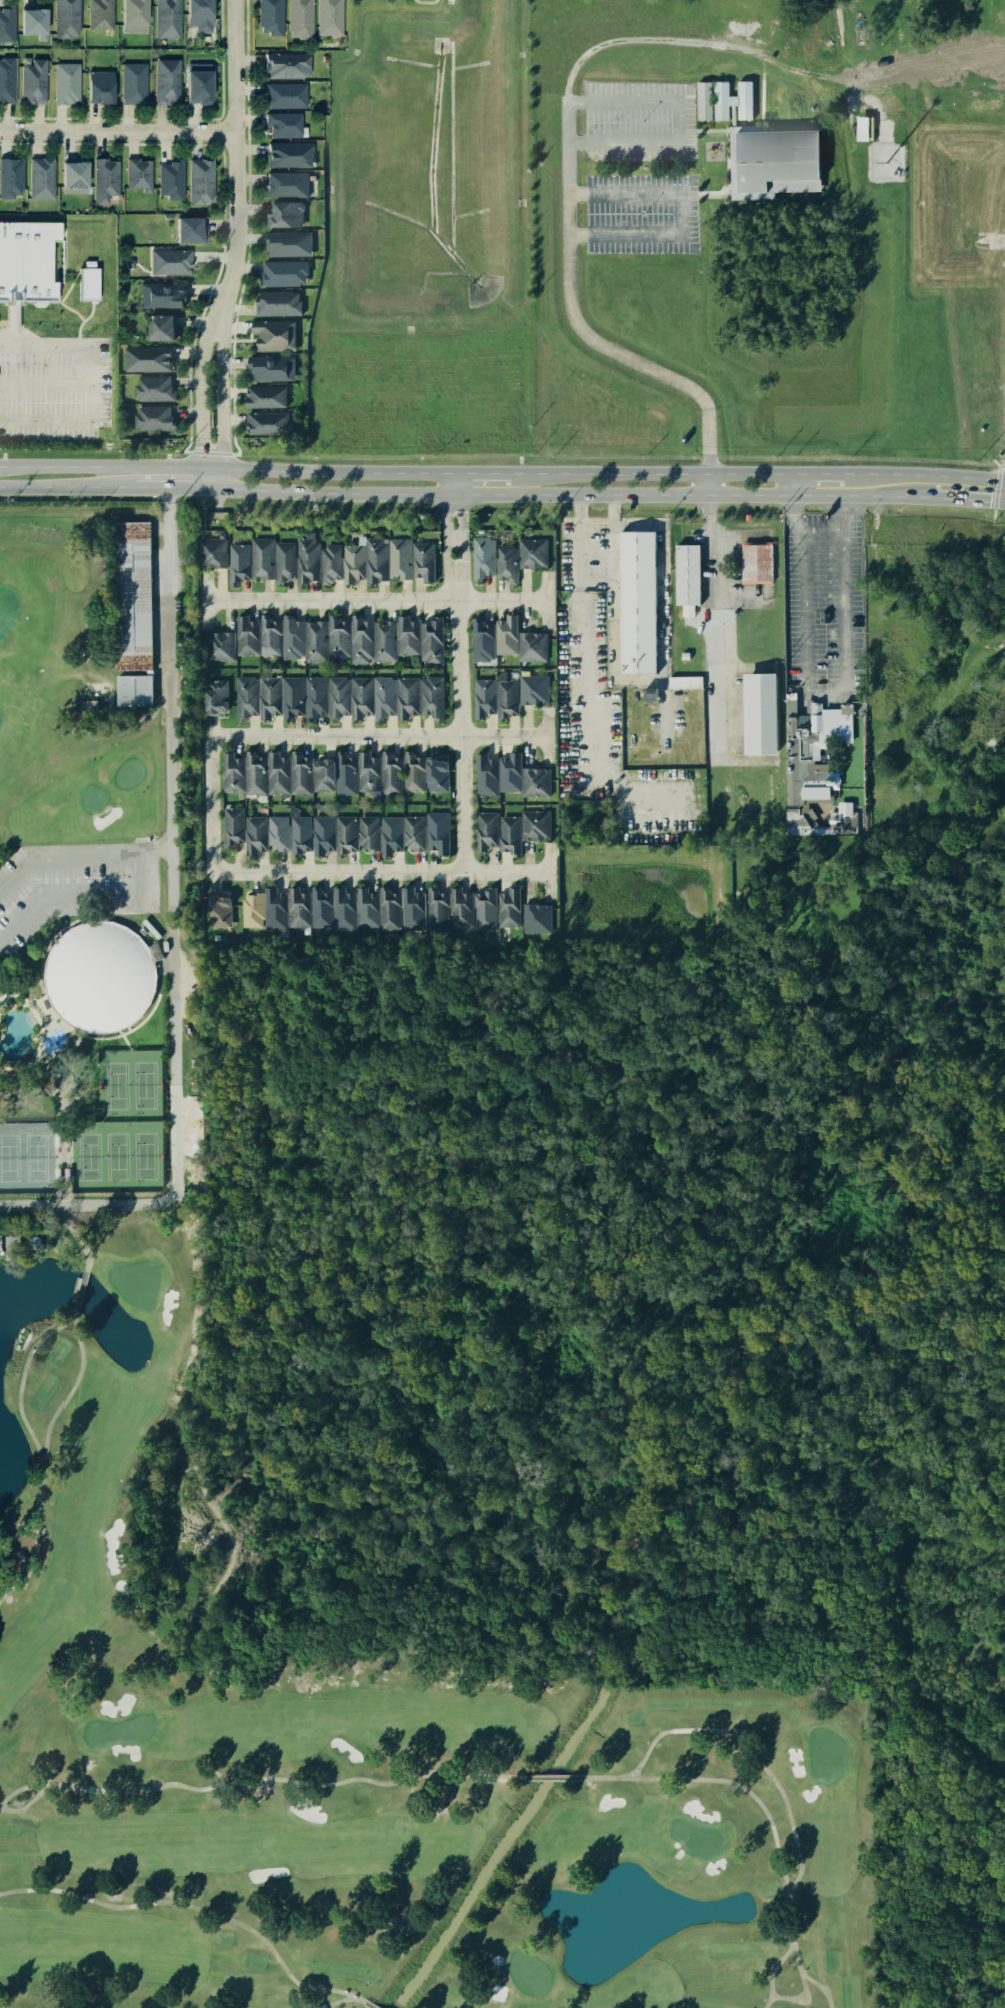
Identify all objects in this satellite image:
road: (425, 2)
building: (199, 13)
building: (101, 14)
building: (135, 15)
building: (66, 17)
building: (271, 17)
building: (330, 17)
building: (168, 18)
building: (300, 18)
building: (34, 22)
building: (7, 23)
building: (286, 63)
building: (7, 79)
building: (33, 80)
building: (168, 80)
building: (67, 82)
building: (133, 83)
building: (100, 86)
building: (198, 88)
road: (759, 90)
building: (285, 94)
building: (703, 100)
road: (578, 101)
road: (693, 115)
road: (169, 119)
parking lot: (637, 120)
road: (218, 121)
road: (675, 121)
street lamp: (639, 122)
building: (283, 124)
building: (864, 128)
road: (702, 129)
road: (218, 132)
road: (118, 133)
road: (563, 139)
street lamp: (90, 140)
road: (578, 141)
road: (217, 144)
building: (769, 152)
building: (290, 153)
road: (833, 153)
street lamp: (641, 166)
building: (138, 173)
building: (74, 176)
building: (11, 178)
building: (42, 179)
building: (103, 179)
building: (171, 179)
parking lot: (670, 182)
parking lot: (676, 182)
parking lot: (681, 182)
building: (204, 184)
building: (287, 184)
parking lot: (686, 187)
road: (225, 192)
road: (578, 193)
road: (704, 194)
parking lot: (686, 202)
parking lot: (687, 207)
building: (78, 209)
parking lot: (640, 212)
building: (288, 213)
street lamp: (642, 213)
road: (676, 213)
building: (189, 228)
road: (248, 228)
road: (577, 234)
building: (290, 242)
road: (236, 245)
road: (50, 260)
building: (25, 261)
building: (170, 261)
building: (87, 264)
road: (63, 270)
building: (285, 272)
building: (87, 283)
road: (55, 289)
building: (162, 294)
building: (279, 301)
building: (11, 318)
road: (79, 322)
road: (2, 324)
road: (24, 327)
building: (162, 327)
building: (275, 335)
road: (60, 346)
building: (148, 358)
building: (272, 367)
street lamp: (42, 368)
street lamp: (108, 369)
parking lot: (52, 385)
building: (154, 387)
building: (266, 395)
road: (89, 400)
building: (155, 418)
building: (267, 423)
street lamp: (96, 429)
street lamp: (43, 440)
road: (187, 451)
road: (211, 451)
road: (235, 453)
road: (996, 463)
road: (1002, 465)
road: (226, 466)
road: (485, 470)
road: (656, 472)
road: (822, 472)
road: (927, 475)
road: (453, 482)
road: (795, 483)
road: (71, 488)
road: (177, 488)
road: (996, 488)
road: (577, 494)
road: (974, 498)
road: (842, 512)
road: (994, 513)
building: (532, 552)
building: (211, 553)
building: (482, 557)
building: (261, 558)
building: (398, 558)
building: (283, 560)
building: (306, 560)
building: (375, 561)
building: (422, 561)
building: (757, 561)
building: (238, 562)
building: (330, 562)
building: (352, 562)
building: (506, 562)
parking lot: (590, 567)
parking lot: (600, 568)
parking lot: (590, 573)
parking lot: (600, 573)
building: (688, 574)
road: (703, 579)
parking lot: (729, 579)
road: (900, 580)
road: (611, 586)
building: (132, 595)
road: (376, 599)
building: (638, 603)
road: (661, 605)
parking lot: (822, 614)
road: (457, 616)
building: (823, 616)
road: (729, 624)
building: (506, 633)
road: (869, 633)
building: (245, 635)
building: (268, 635)
building: (406, 635)
building: (291, 637)
building: (338, 637)
building: (481, 639)
building: (361, 640)
building: (384, 640)
road: (861, 640)
building: (431, 641)
building: (315, 642)
building: (531, 645)
road: (989, 646)
building: (220, 647)
building: (686, 682)
parking lot: (828, 686)
parking lot: (819, 687)
building: (533, 689)
building: (132, 690)
building: (650, 693)
road: (822, 694)
building: (215, 696)
building: (245, 696)
building: (268, 696)
building: (337, 696)
building: (360, 696)
building: (291, 697)
building: (314, 697)
building: (383, 697)
building: (407, 697)
building: (431, 697)
building: (483, 697)
building: (505, 699)
parking lot: (798, 703)
parking lot: (806, 703)
parking lot: (811, 704)
road: (815, 705)
road: (583, 706)
road: (933, 706)
building: (759, 712)
building: (868, 723)
building: (990, 723)
road: (882, 731)
road: (382, 737)
road: (904, 740)
road: (861, 747)
road: (924, 758)
building: (870, 766)
building: (509, 771)
building: (254, 772)
building: (367, 772)
building: (413, 772)
road: (842, 772)
building: (230, 773)
building: (276, 773)
building: (344, 773)
building: (390, 773)
building: (299, 774)
building: (484, 774)
building: (322, 775)
building: (437, 776)
building: (535, 781)
building: (811, 781)
road: (843, 798)
road: (462, 806)
road: (214, 807)
road: (869, 822)
building: (534, 826)
building: (231, 827)
road: (905, 827)
building: (486, 829)
building: (437, 831)
building: (367, 832)
building: (413, 832)
building: (277, 833)
building: (508, 833)
building: (344, 834)
building: (298, 835)
building: (321, 835)
building: (255, 836)
building: (389, 836)
road: (80, 855)
road: (382, 874)
road: (81, 895)
building: (364, 906)
building: (272, 907)
building: (296, 907)
building: (318, 907)
building: (409, 907)
building: (435, 907)
building: (458, 907)
building: (507, 907)
building: (341, 908)
building: (386, 908)
building: (483, 908)
building: (249, 909)
building: (217, 910)
building: (535, 917)
road: (173, 932)
building: (100, 974)
park: (91, 1085)
park: (122, 1126)
park: (27, 1157)
building: (8, 1244)
park: (103, 1311)

